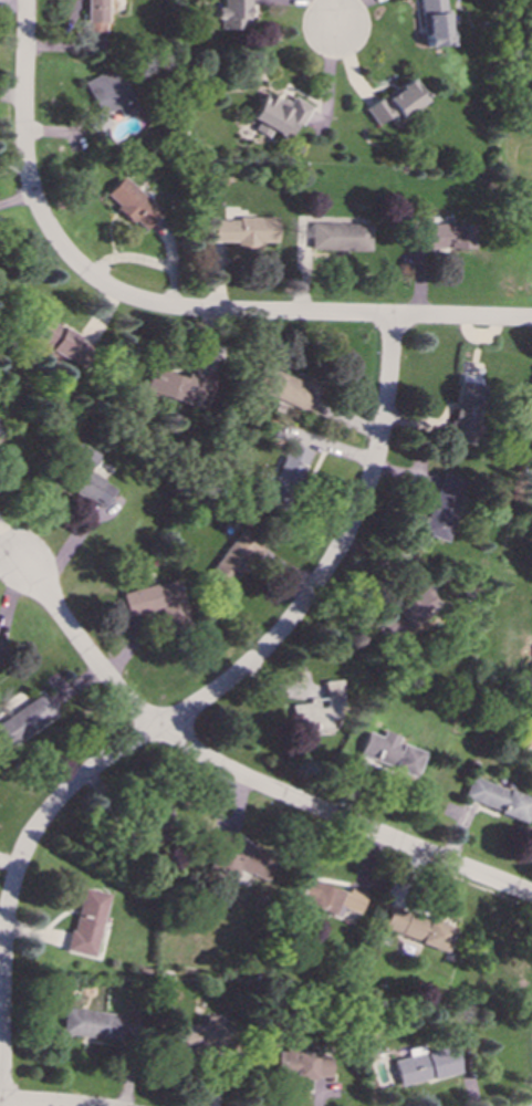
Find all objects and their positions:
road: (334, 10)
building: (228, 13)
building: (93, 14)
building: (432, 23)
building: (95, 41)
building: (107, 98)
building: (393, 102)
building: (277, 114)
road: (24, 144)
building: (131, 202)
building: (243, 229)
building: (340, 236)
building: (442, 236)
road: (303, 312)
building: (60, 342)
building: (179, 385)
building: (288, 388)
building: (465, 410)
building: (0, 434)
building: (285, 476)
building: (83, 478)
building: (440, 505)
building: (233, 557)
building: (157, 601)
building: (405, 611)
building: (1, 646)
road: (192, 709)
building: (24, 720)
building: (528, 742)
road: (239, 776)
building: (496, 799)
building: (240, 860)
building: (328, 899)
building: (86, 921)
building: (416, 927)
building: (91, 1023)
building: (198, 1035)
building: (299, 1061)
building: (423, 1064)
road: (41, 1103)

